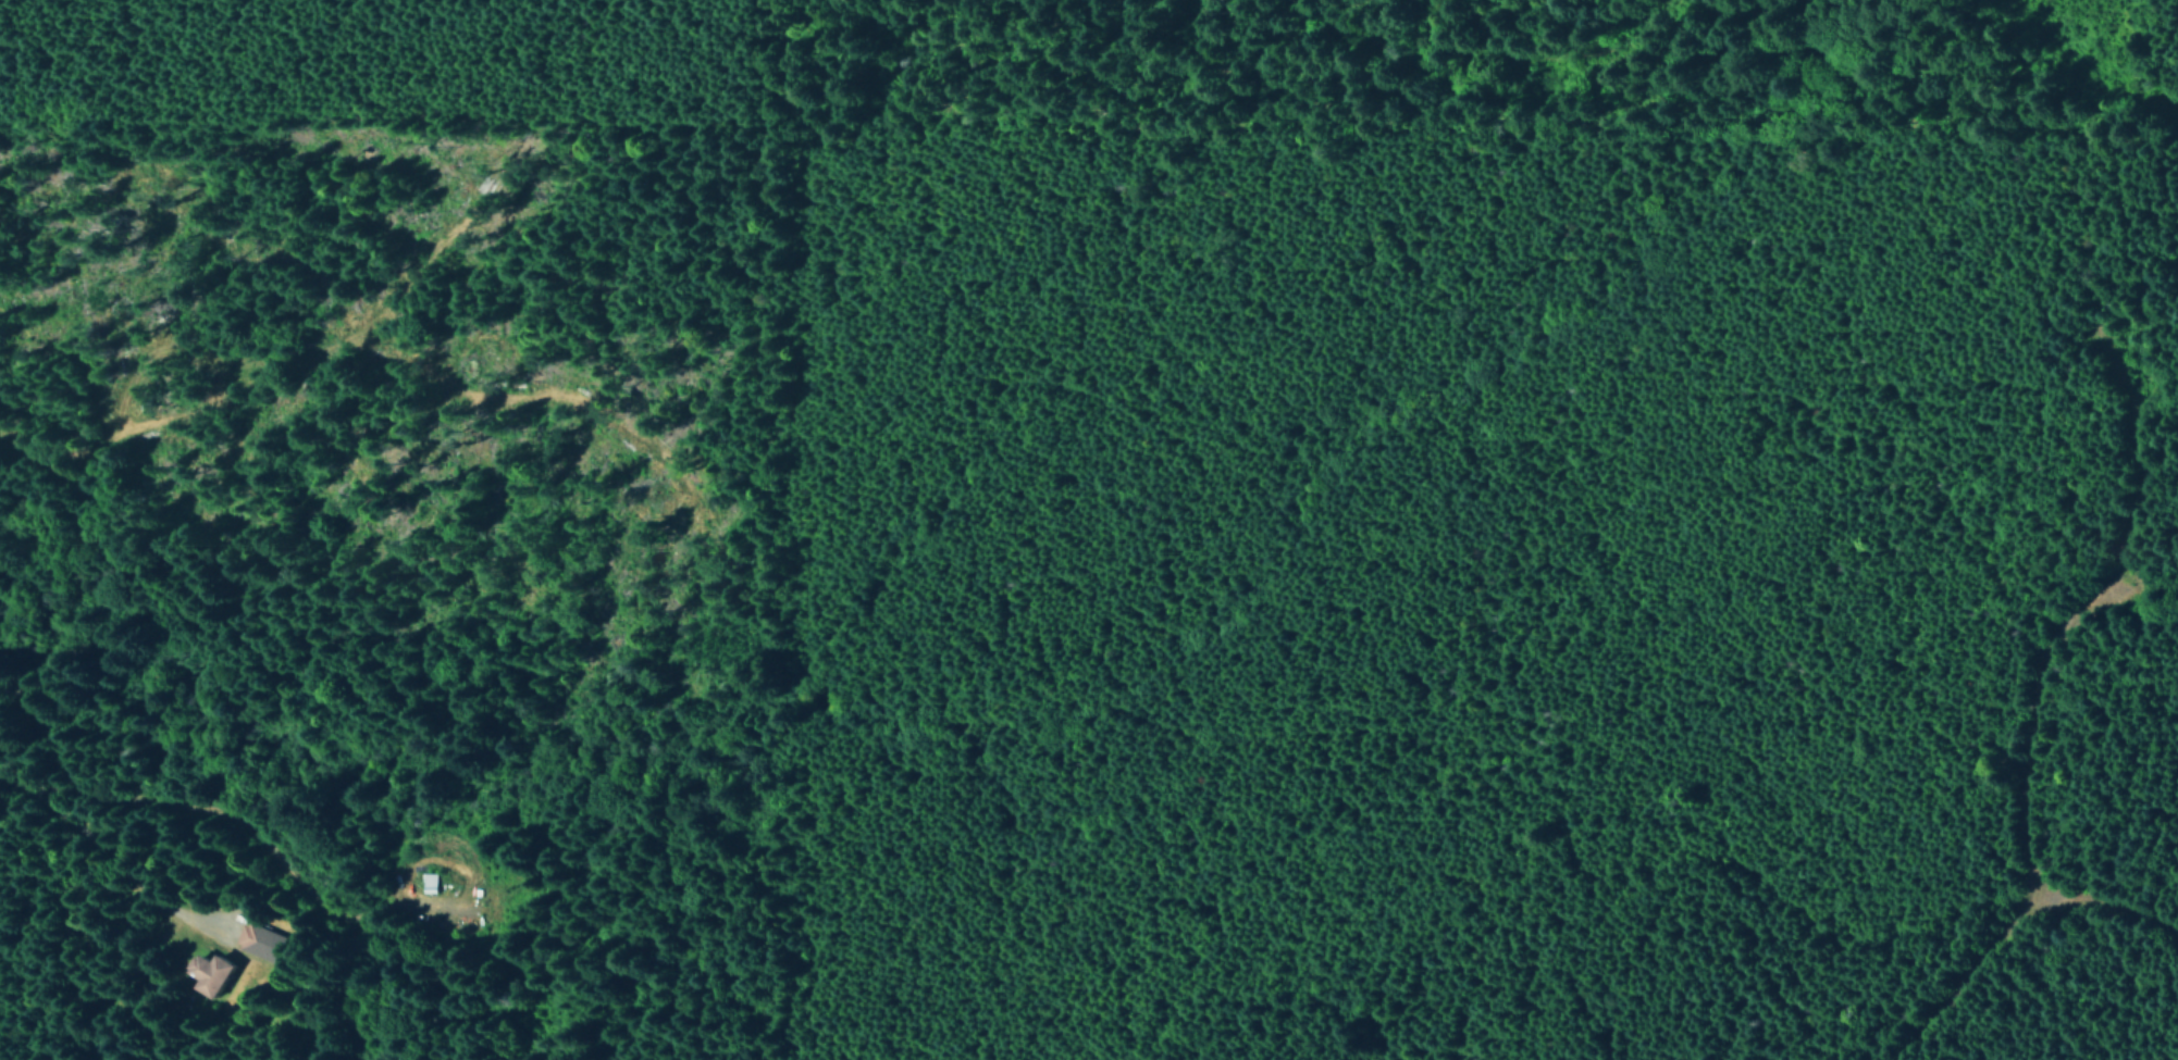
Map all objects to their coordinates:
building: (426, 883)
building: (260, 941)
building: (209, 973)

